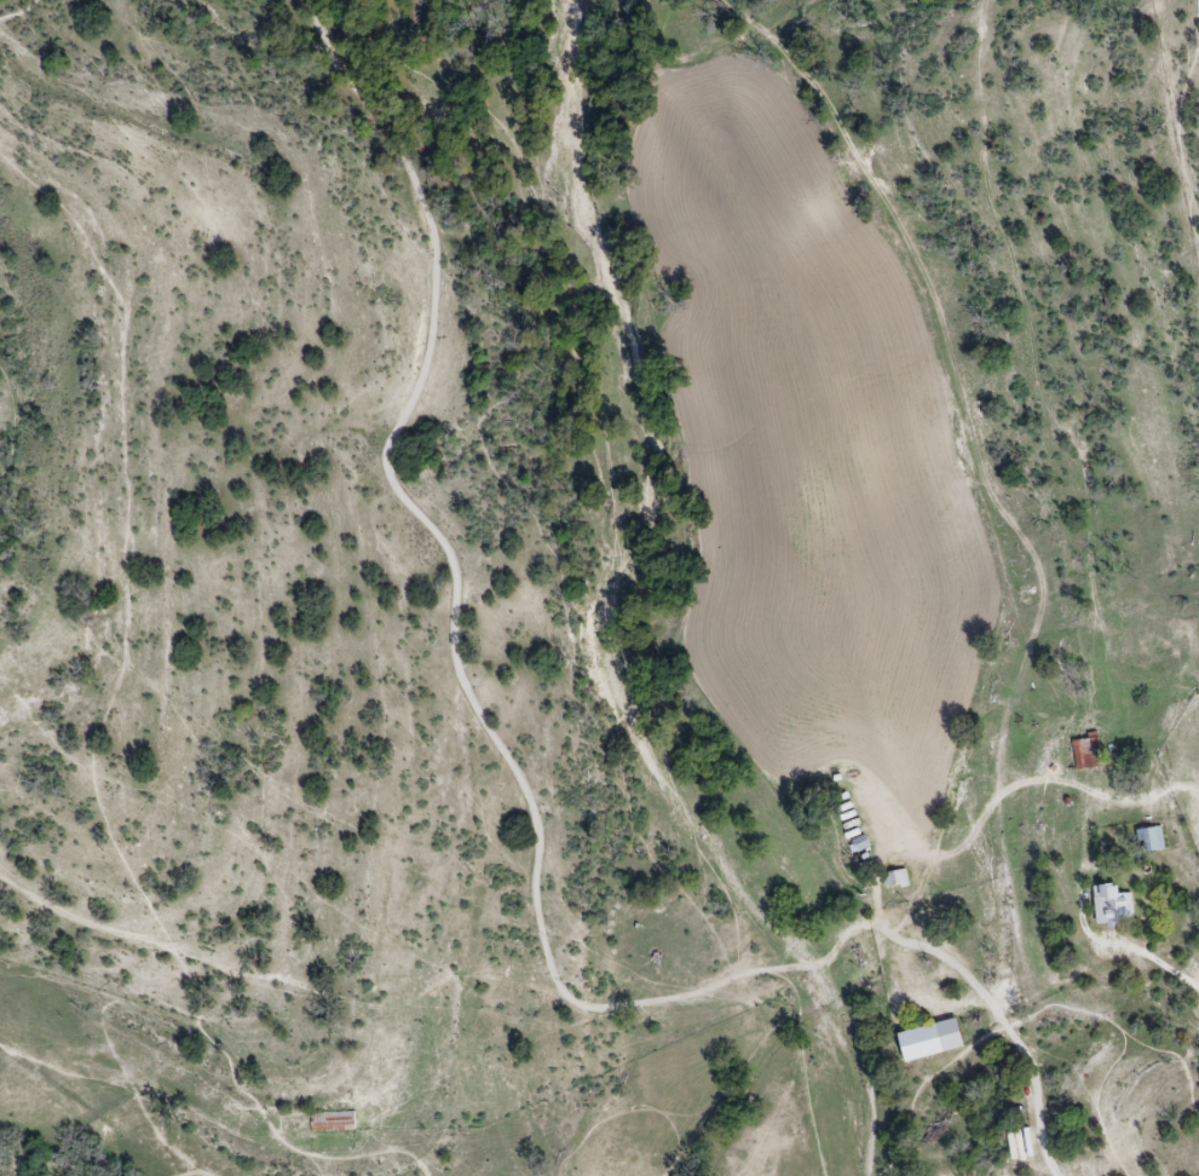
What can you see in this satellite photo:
road: (19, 12)
road: (1177, 122)
road: (12, 419)
road: (123, 540)
road: (452, 580)
building: (1085, 751)
road: (1034, 785)
building: (1151, 838)
building: (859, 842)
building: (895, 878)
building: (1111, 905)
road: (119, 932)
road: (1154, 958)
road: (964, 973)
road: (1025, 1016)
building: (928, 1039)
road: (803, 1072)
road: (1097, 1102)
road: (630, 1108)
building: (332, 1120)
road: (288, 1145)

